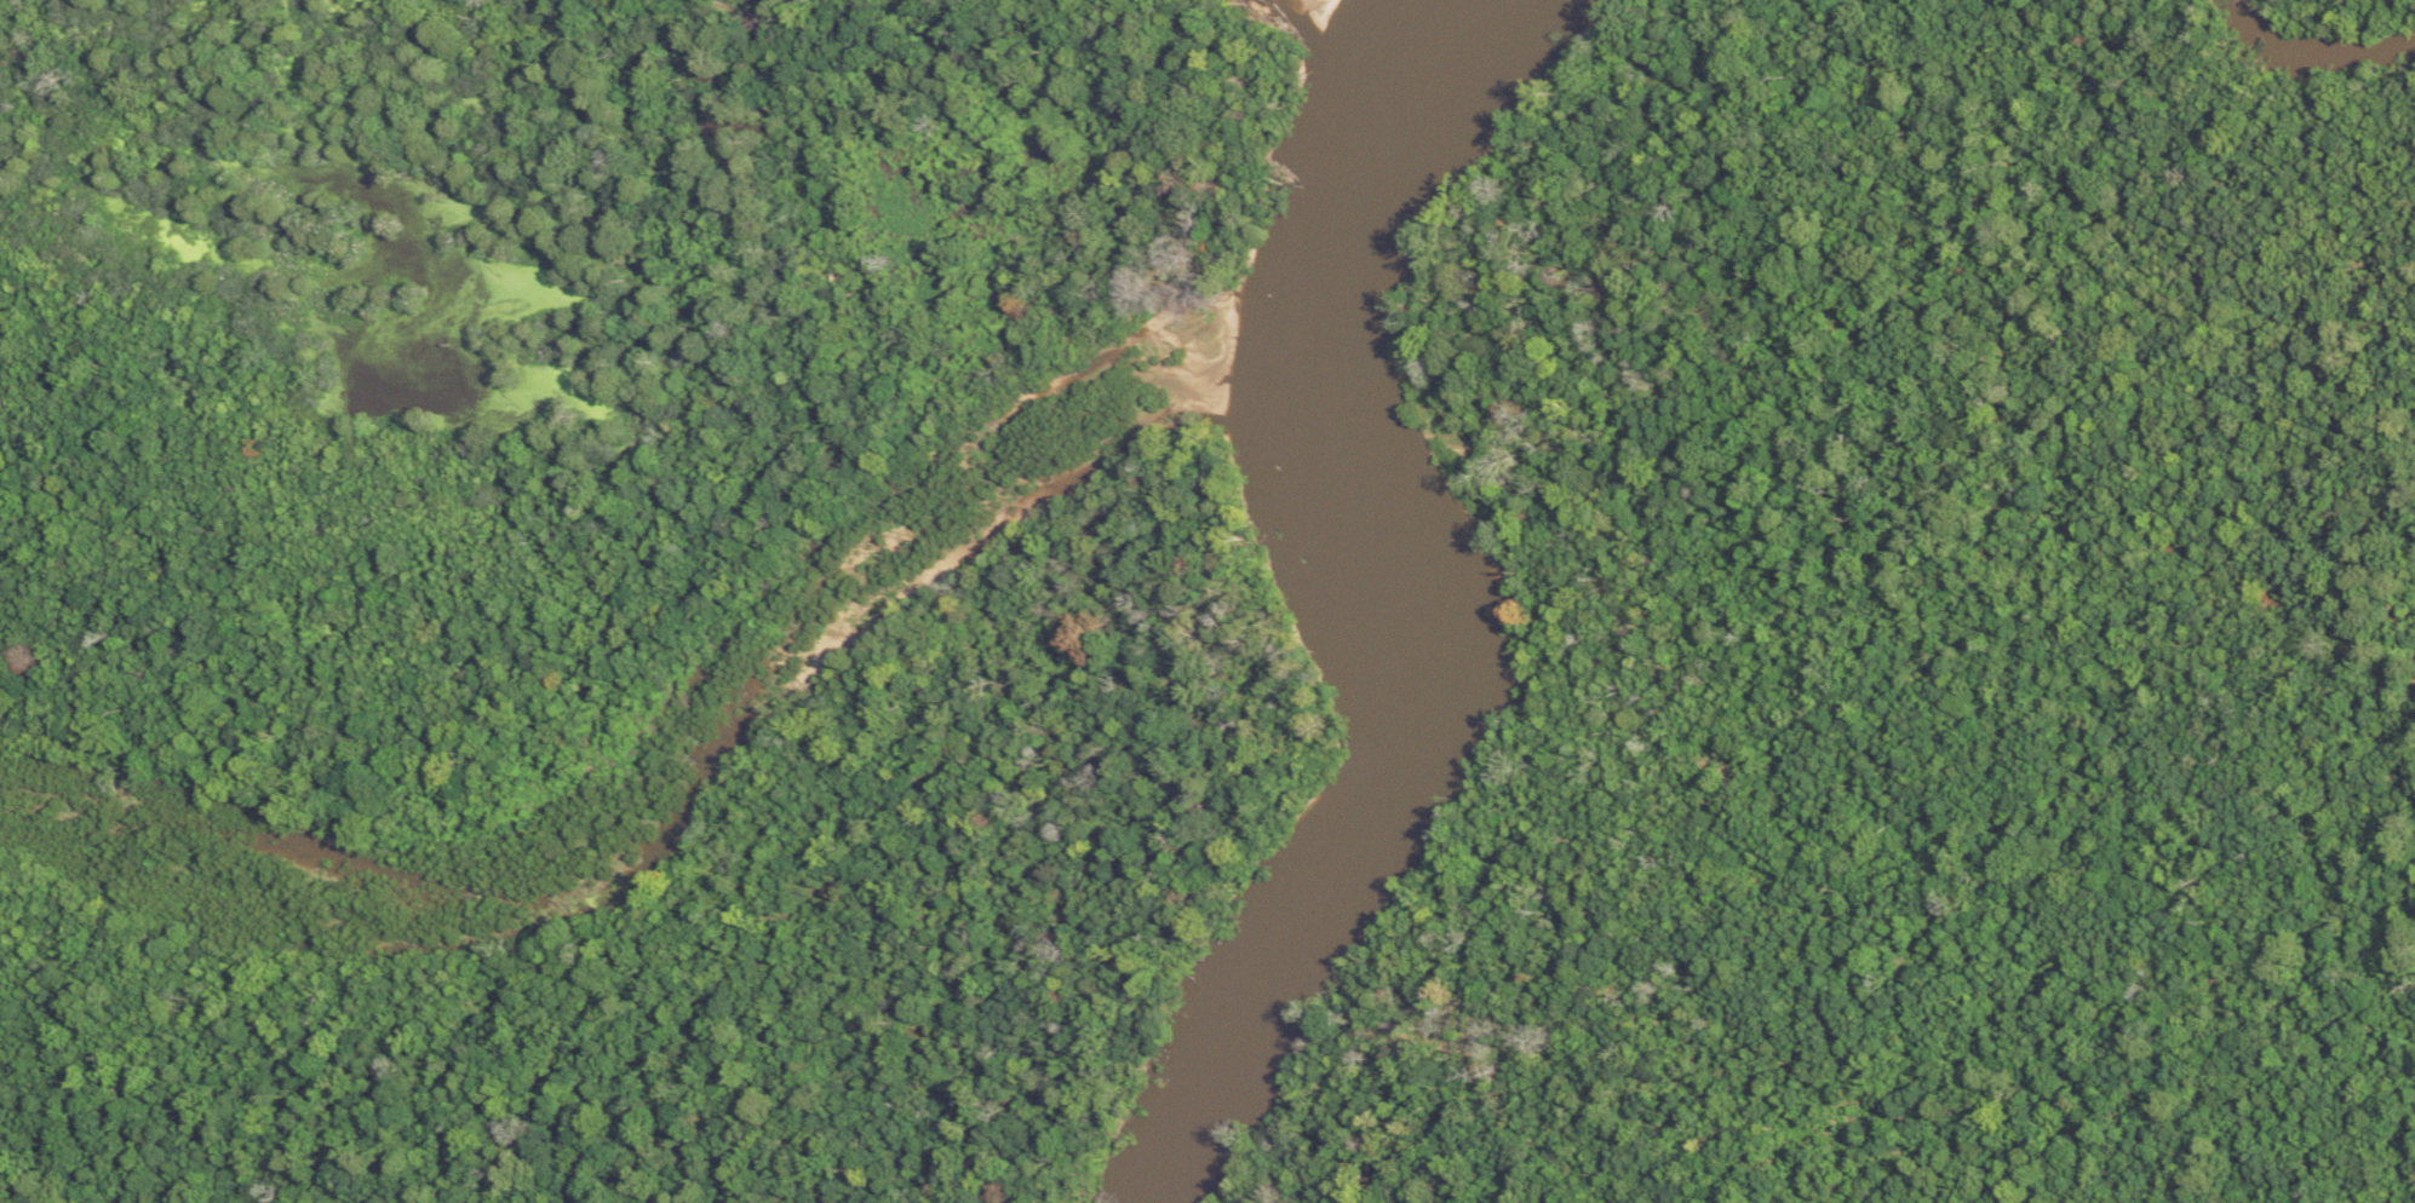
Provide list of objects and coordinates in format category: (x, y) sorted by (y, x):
river: (1390, 616)

